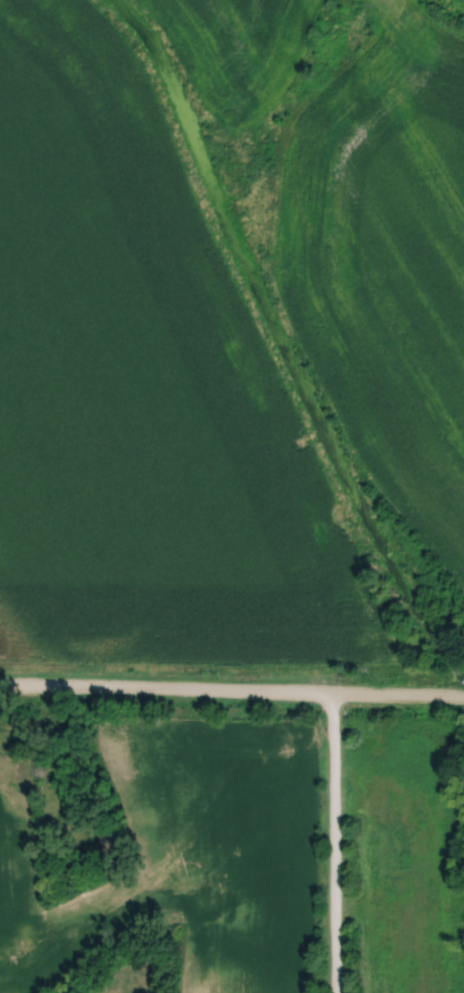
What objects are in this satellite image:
road: (231, 694)
road: (332, 845)

